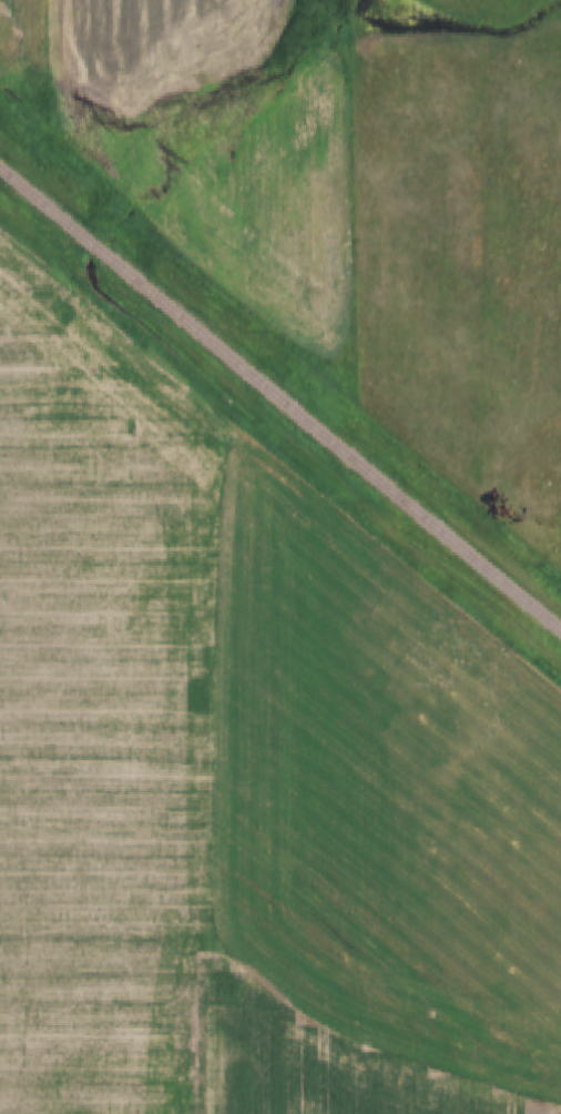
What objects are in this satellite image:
railway: (279, 395)

